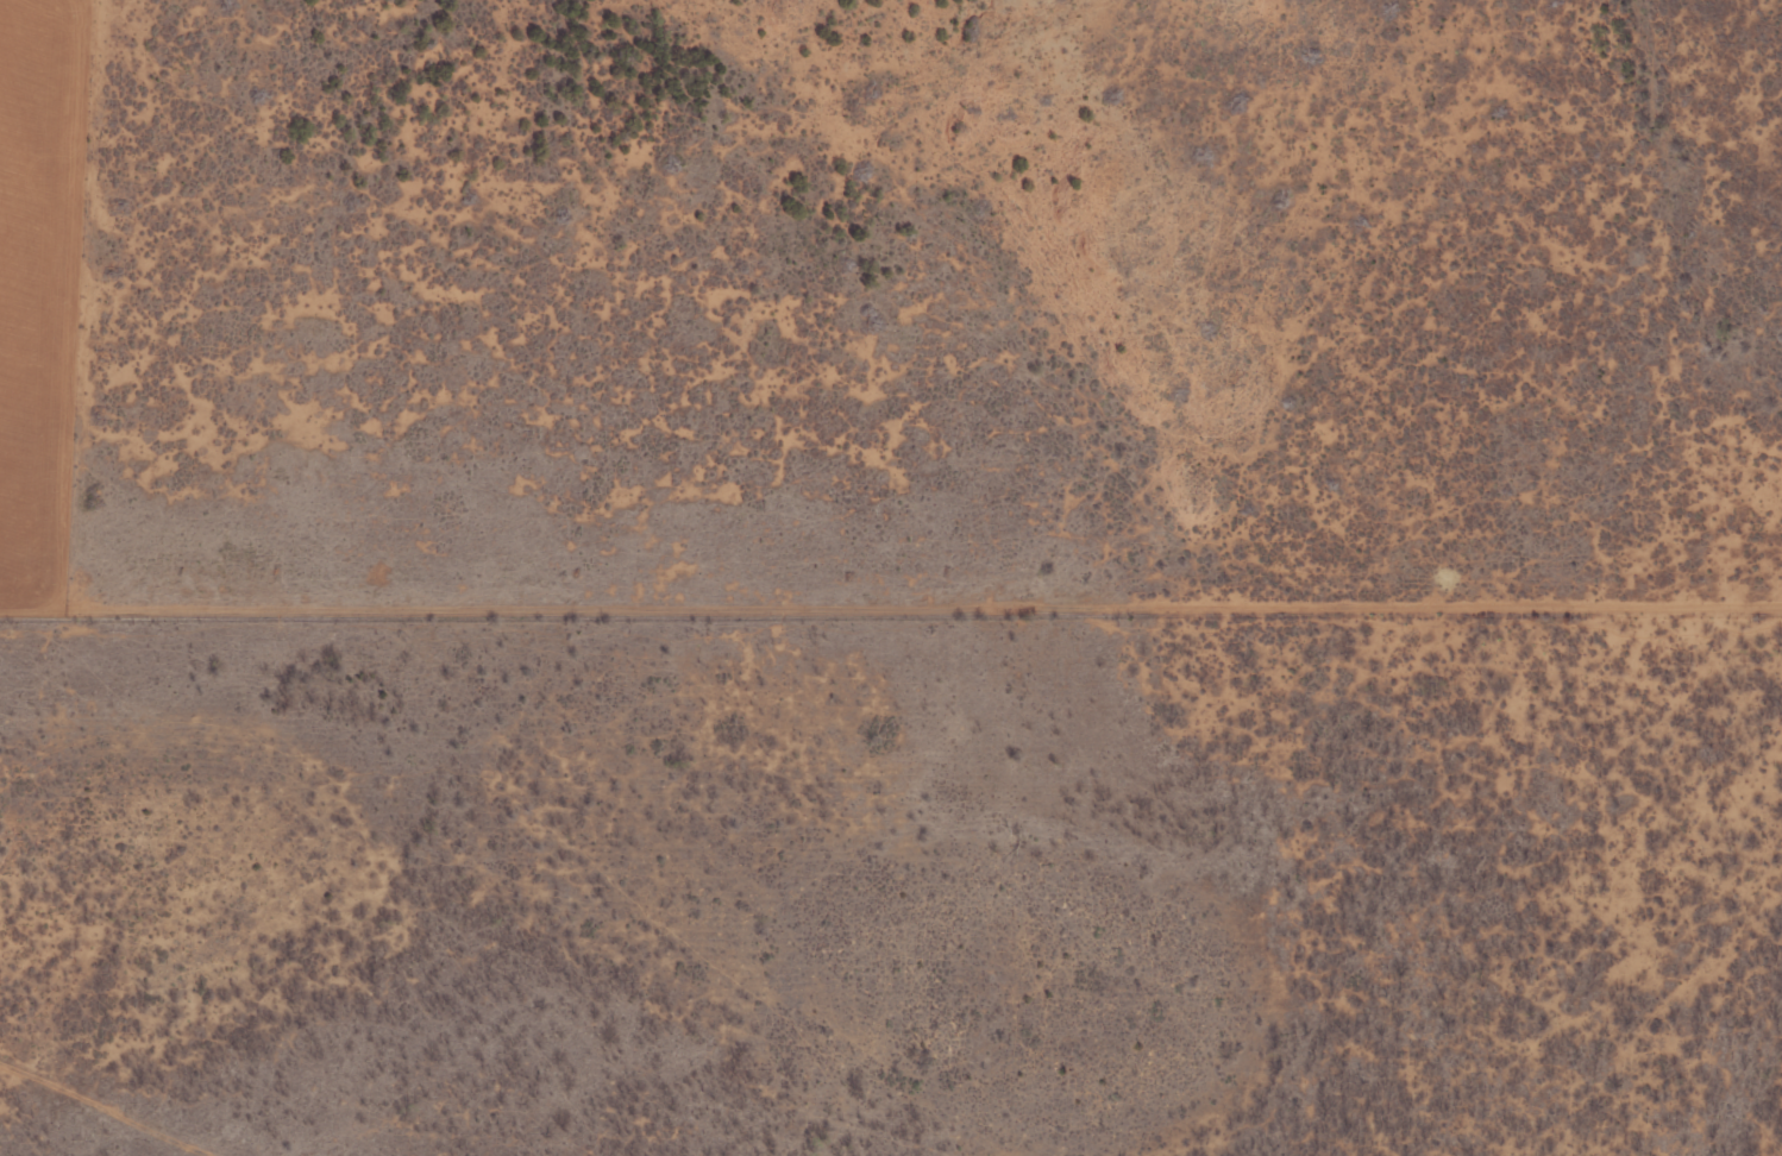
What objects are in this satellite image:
road: (891, 586)
road: (112, 1087)

